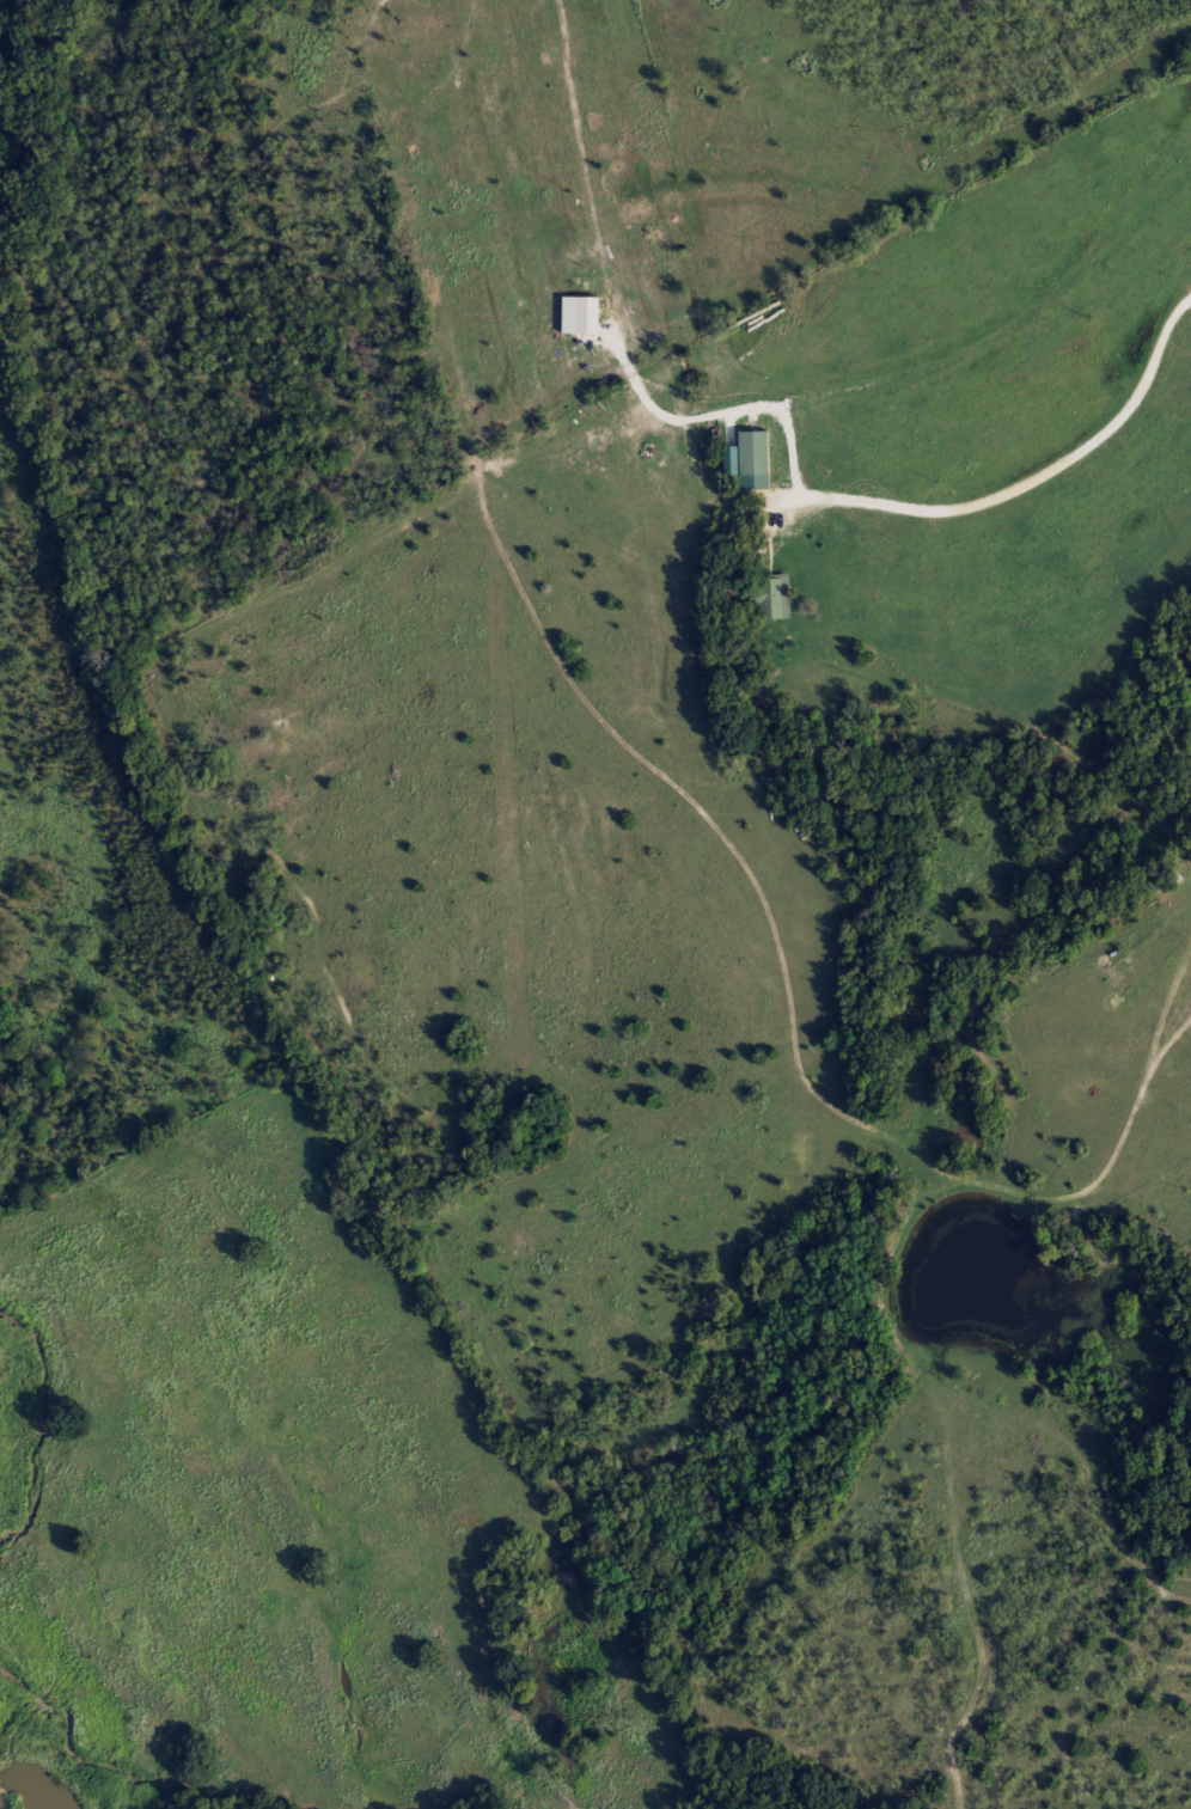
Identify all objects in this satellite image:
building: (582, 314)
building: (752, 460)
road: (1022, 478)
building: (768, 597)
building: (1167, 876)

